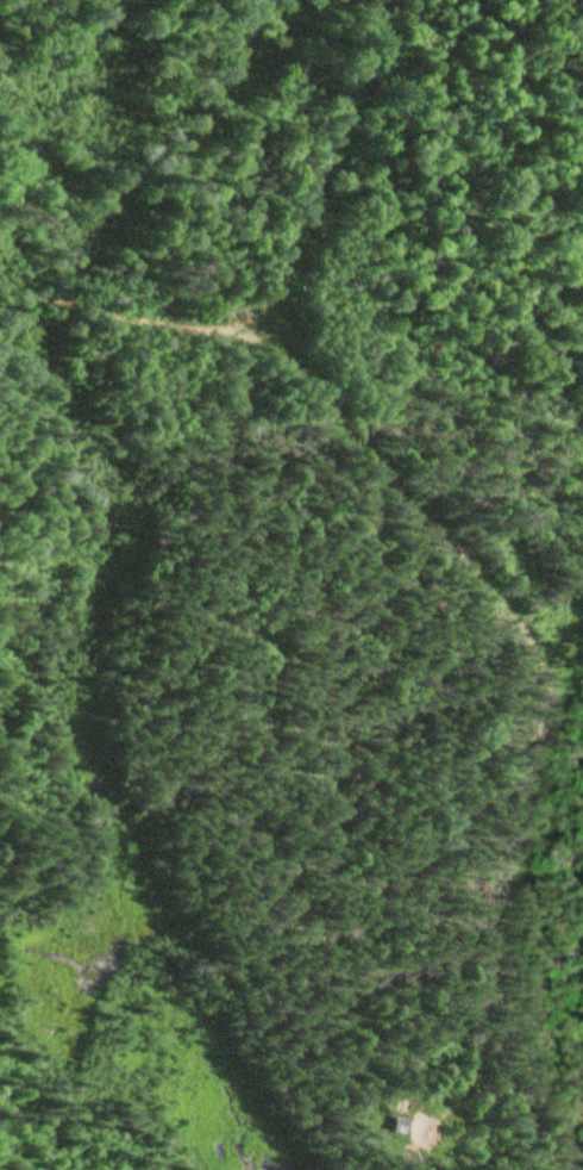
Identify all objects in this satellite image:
building: (394, 1124)

